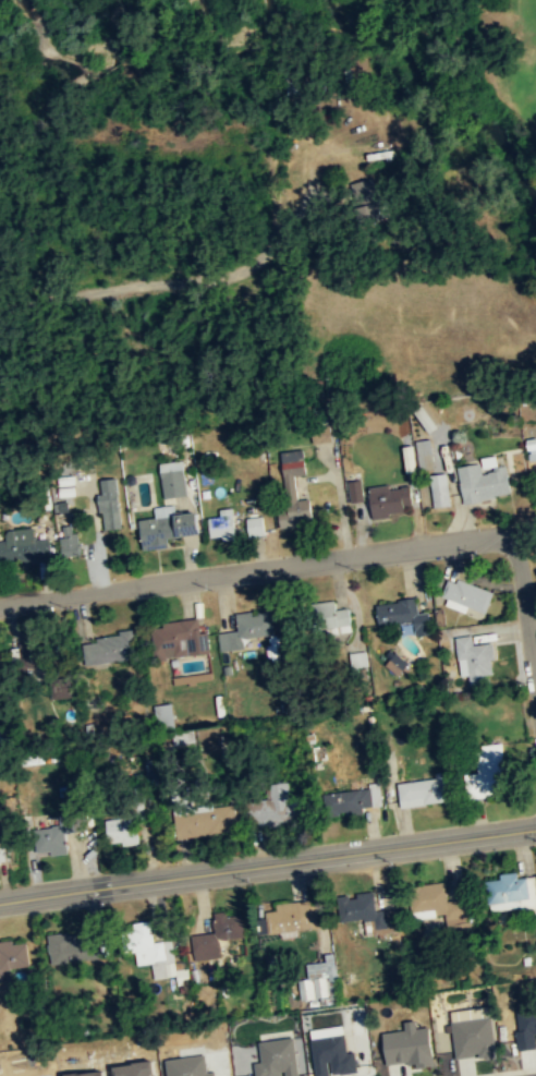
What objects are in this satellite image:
park: (499, 114)
road: (312, 176)
building: (366, 190)
road: (139, 285)
building: (532, 448)
building: (426, 454)
building: (411, 459)
building: (294, 464)
building: (173, 479)
building: (485, 482)
building: (440, 489)
building: (356, 491)
building: (391, 499)
building: (110, 504)
building: (296, 513)
building: (223, 524)
building: (170, 525)
building: (257, 525)
building: (70, 541)
building: (25, 546)
road: (327, 559)
building: (466, 596)
building: (404, 616)
building: (344, 619)
building: (247, 629)
building: (181, 639)
building: (114, 648)
building: (474, 656)
building: (395, 663)
building: (2, 668)
building: (163, 713)
building: (494, 771)
building: (426, 790)
building: (363, 798)
building: (280, 808)
building: (206, 820)
building: (123, 830)
building: (59, 834)
road: (267, 863)
building: (514, 887)
building: (443, 903)
building: (370, 911)
building: (292, 916)
building: (218, 935)
building: (73, 947)
building: (155, 954)
building: (13, 956)
building: (322, 977)
building: (527, 1027)
building: (474, 1032)
building: (411, 1045)
building: (333, 1055)
building: (278, 1057)
building: (190, 1066)

